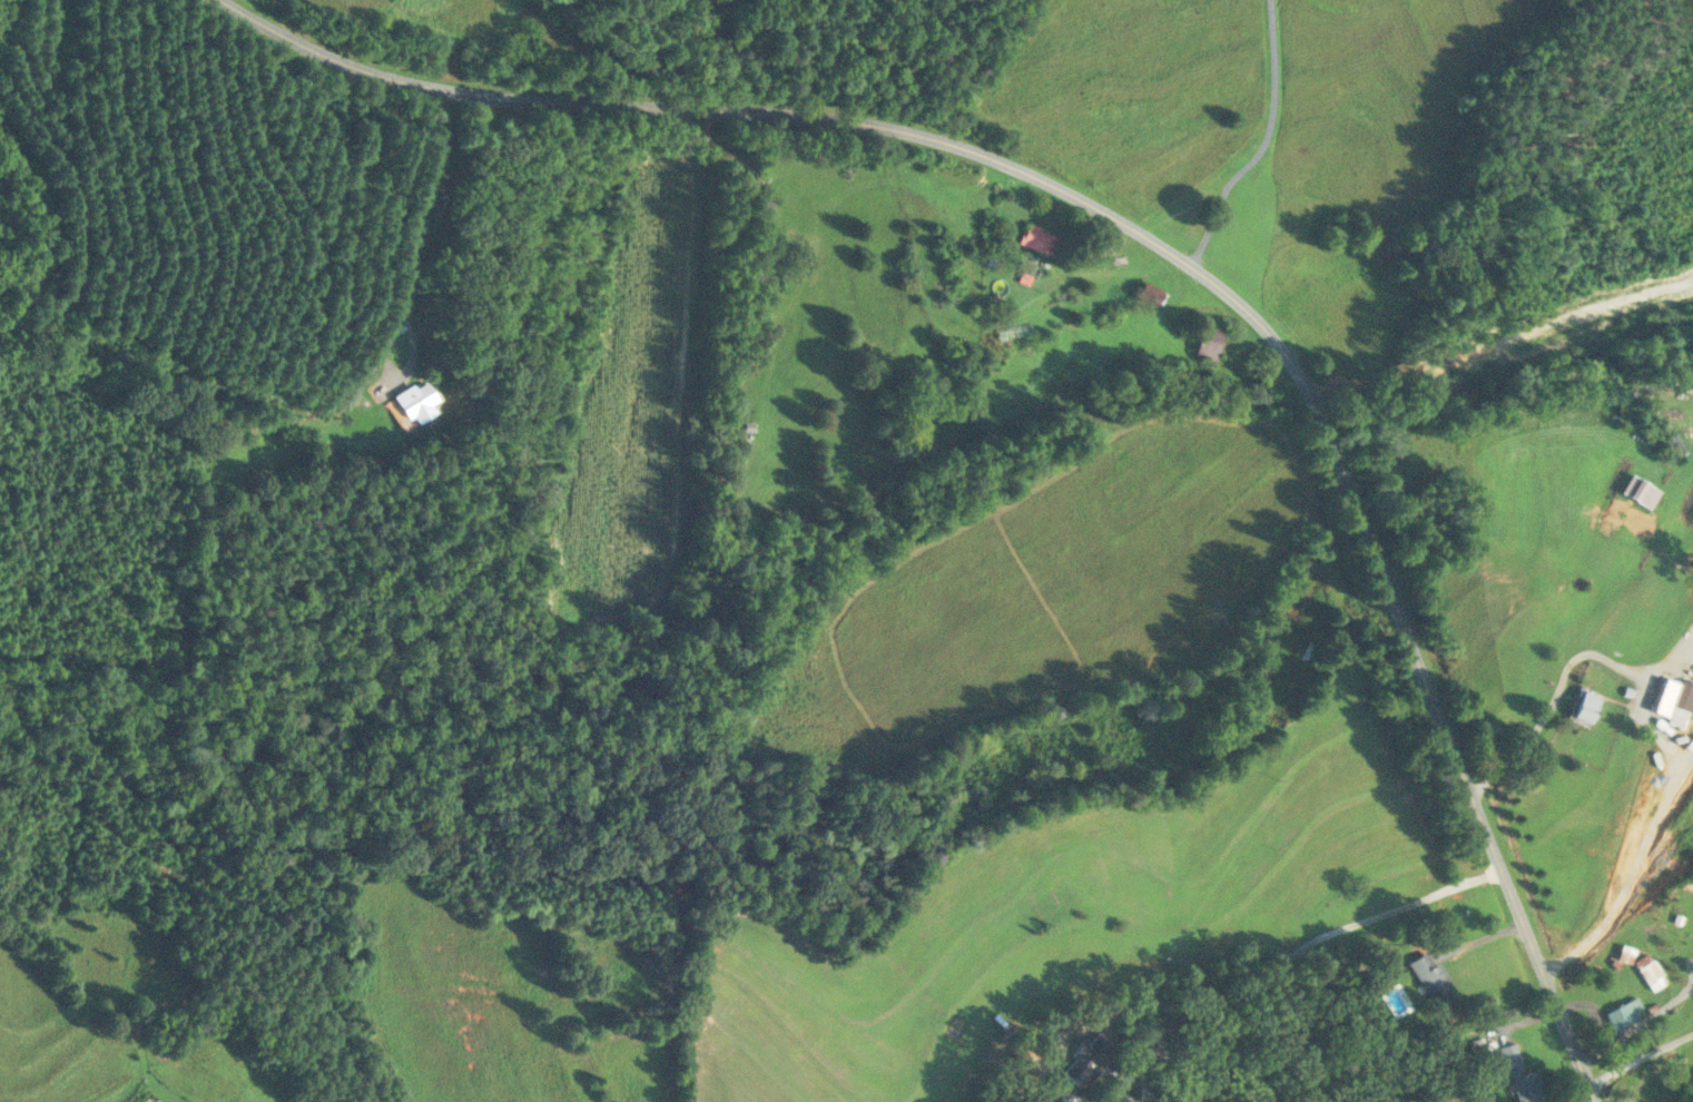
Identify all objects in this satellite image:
road: (1264, 144)
building: (1040, 239)
road: (1150, 239)
road: (417, 243)
building: (1151, 293)
building: (1209, 340)
building: (417, 404)
building: (1309, 648)
road: (1661, 671)
building: (1665, 696)
building: (1585, 705)
road: (1551, 712)
road: (1627, 876)
road: (1308, 942)
building: (1647, 967)
building: (1434, 978)
road: (1592, 1006)
building: (1626, 1015)
road: (1635, 1023)
building: (1091, 1056)
road: (1641, 1057)
building: (1524, 1078)
road: (1594, 1092)
road: (1103, 1101)

